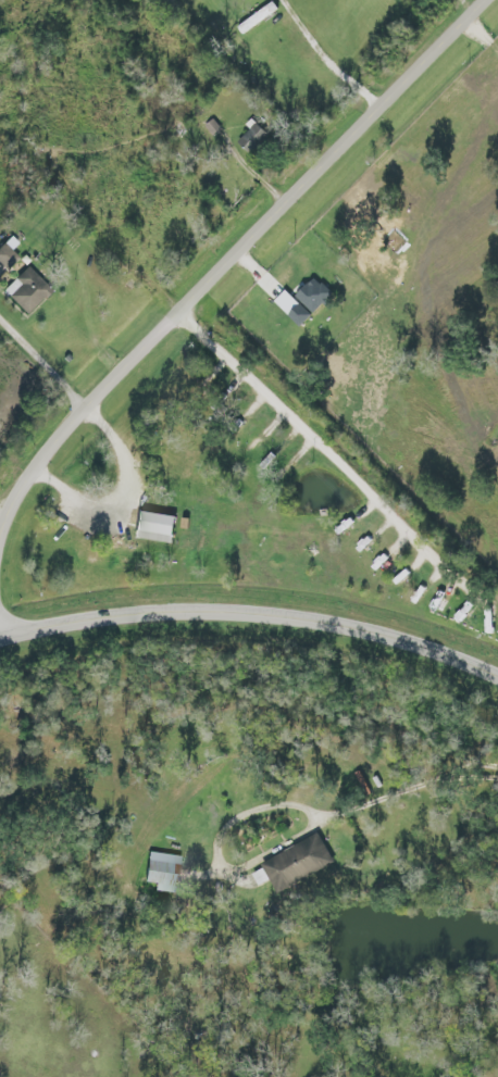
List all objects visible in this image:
building: (257, 18)
building: (212, 127)
building: (252, 139)
road: (238, 254)
building: (5, 258)
building: (26, 291)
road: (46, 368)
building: (154, 528)
road: (252, 612)
road: (408, 789)
road: (216, 850)
building: (298, 862)
building: (162, 874)

